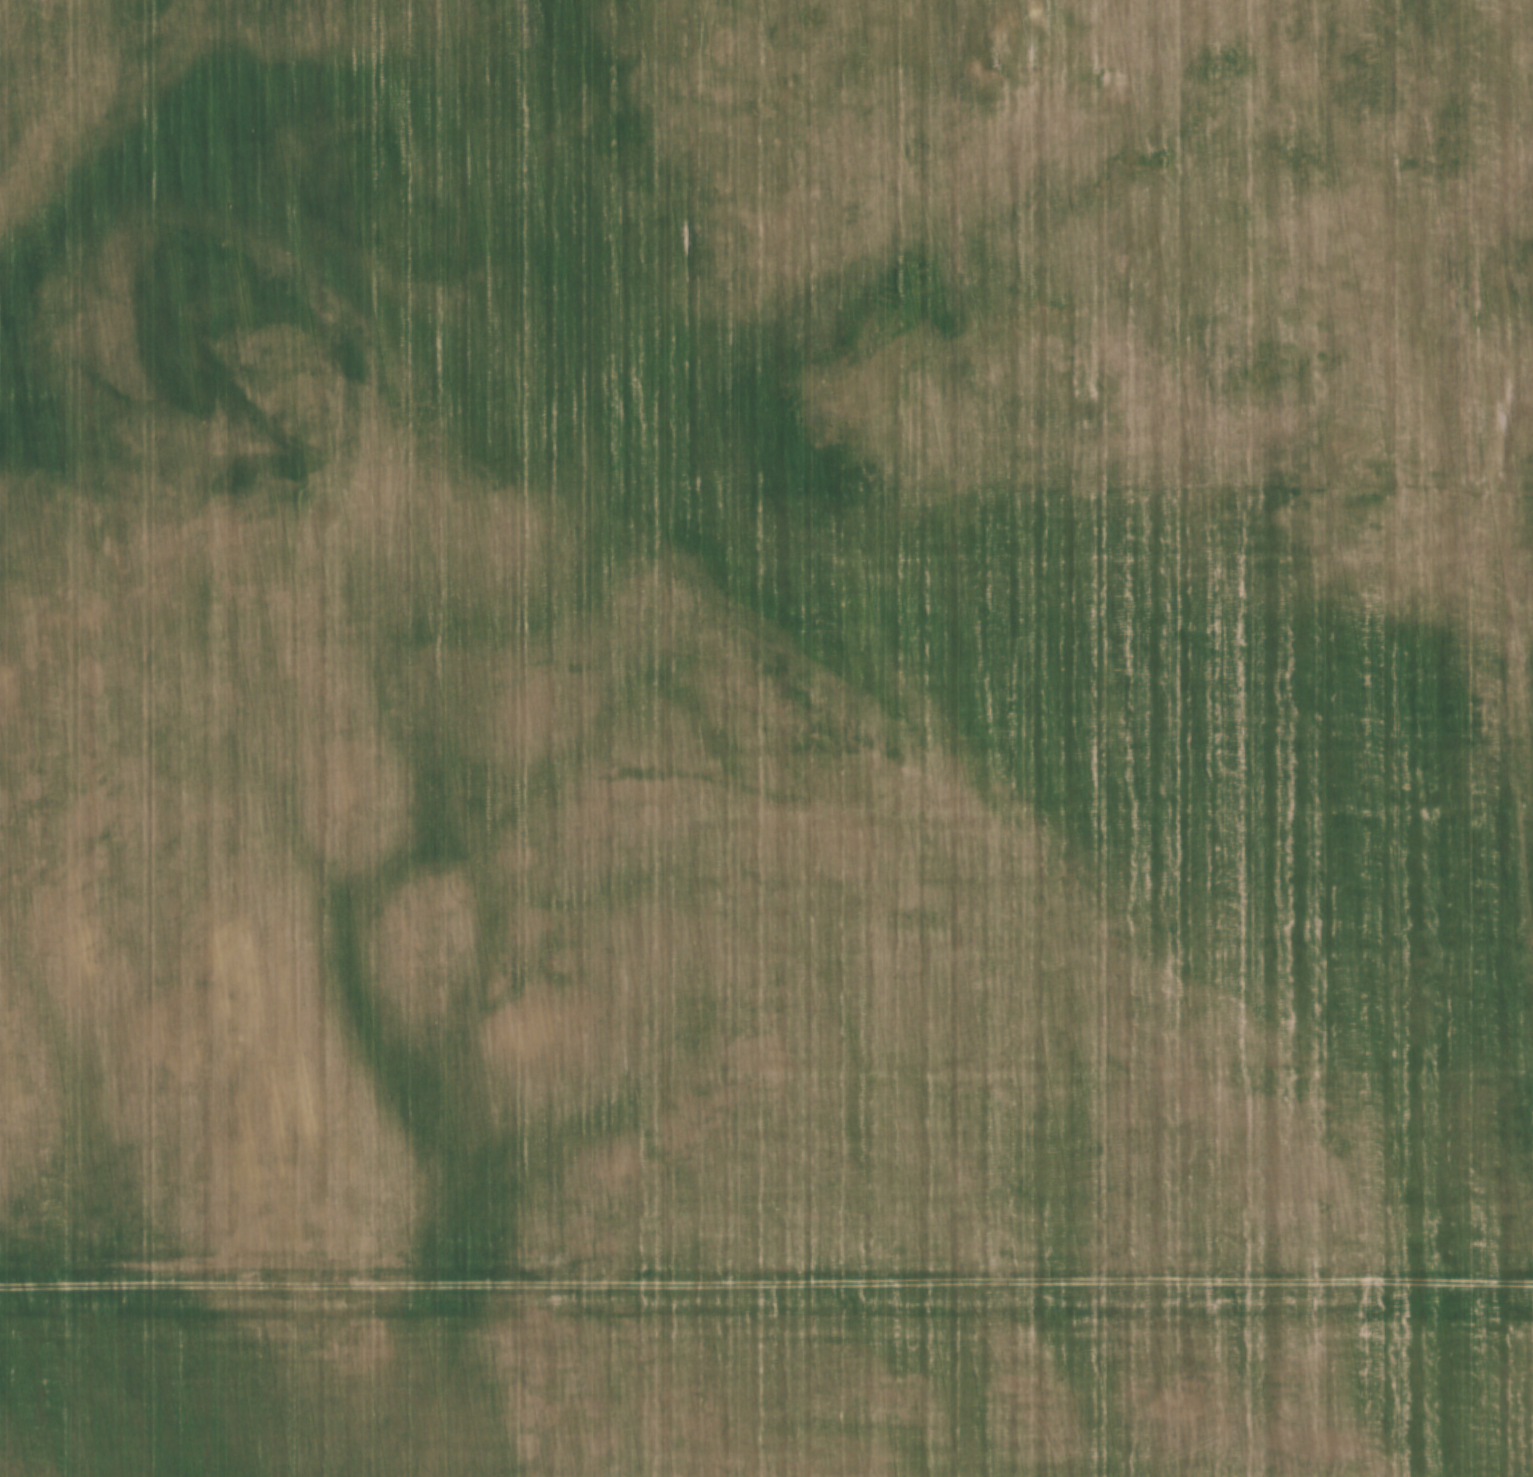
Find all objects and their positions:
road: (766, 1305)

